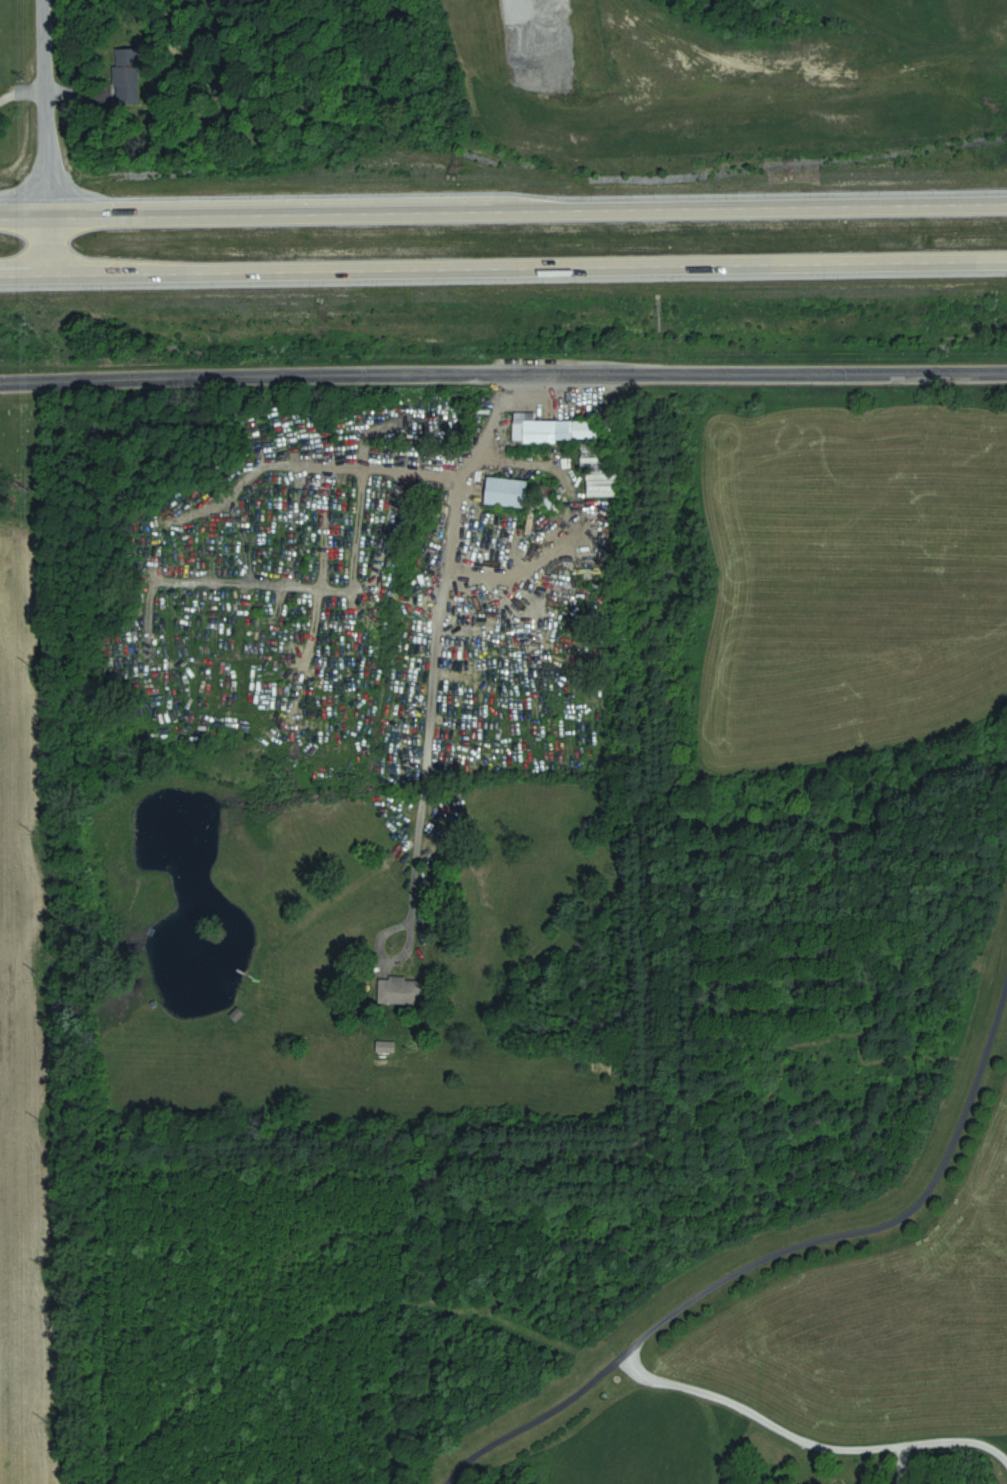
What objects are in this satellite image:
road: (539, 31)
road: (770, 67)
building: (128, 78)
road: (47, 106)
road: (503, 204)
road: (51, 243)
road: (503, 269)
road: (503, 370)
building: (553, 429)
building: (506, 492)
road: (572, 505)
road: (173, 522)
road: (387, 526)
road: (442, 560)
road: (469, 582)
road: (297, 586)
road: (281, 591)
road: (214, 610)
road: (190, 616)
road: (516, 621)
road: (169, 624)
road: (567, 658)
road: (536, 710)
road: (467, 712)
road: (504, 712)
road: (567, 712)
road: (602, 712)
road: (209, 715)
road: (353, 731)
road: (398, 748)
road: (515, 765)
road: (412, 900)
building: (400, 990)
road: (879, 1234)
road: (712, 1397)

